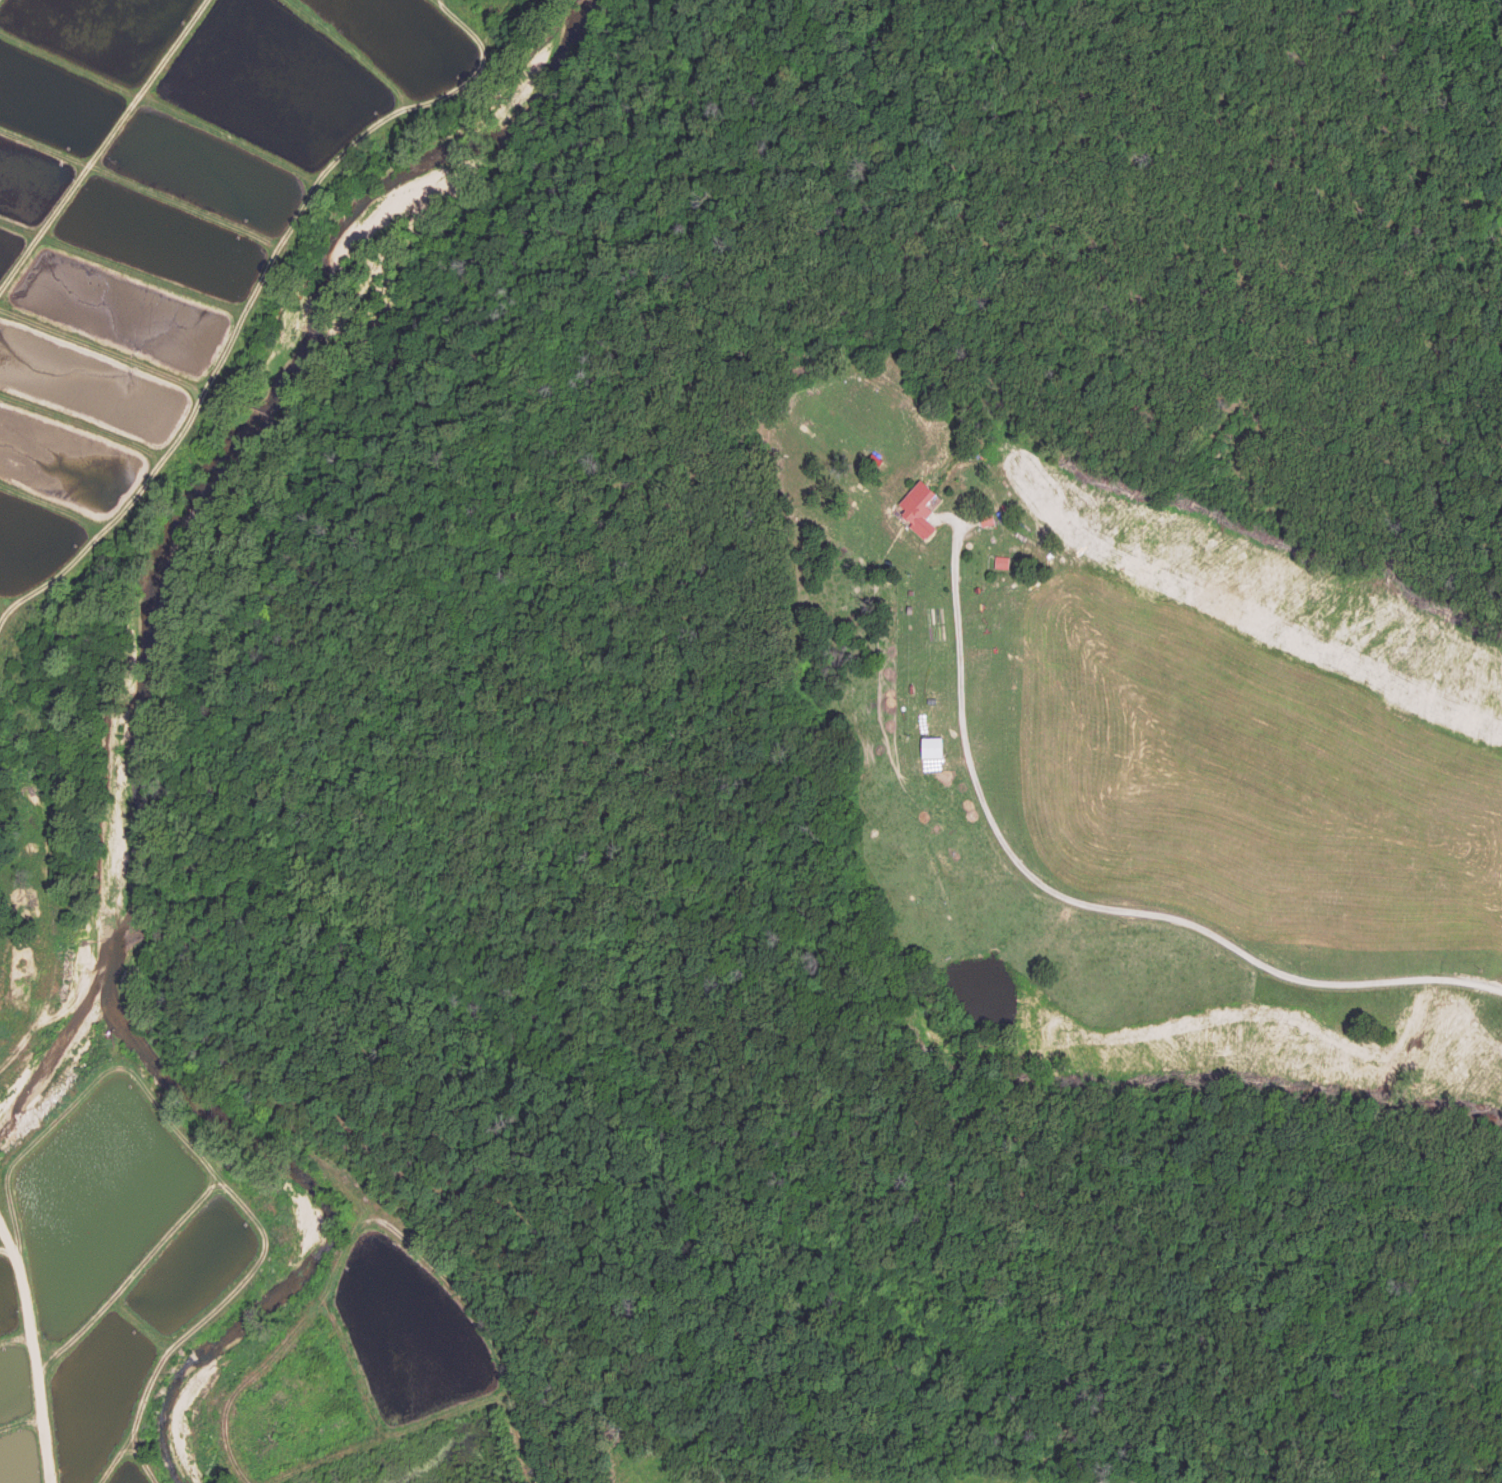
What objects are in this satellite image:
building: (921, 510)
building: (988, 520)
building: (933, 749)
road: (1085, 906)
road: (31, 1361)

